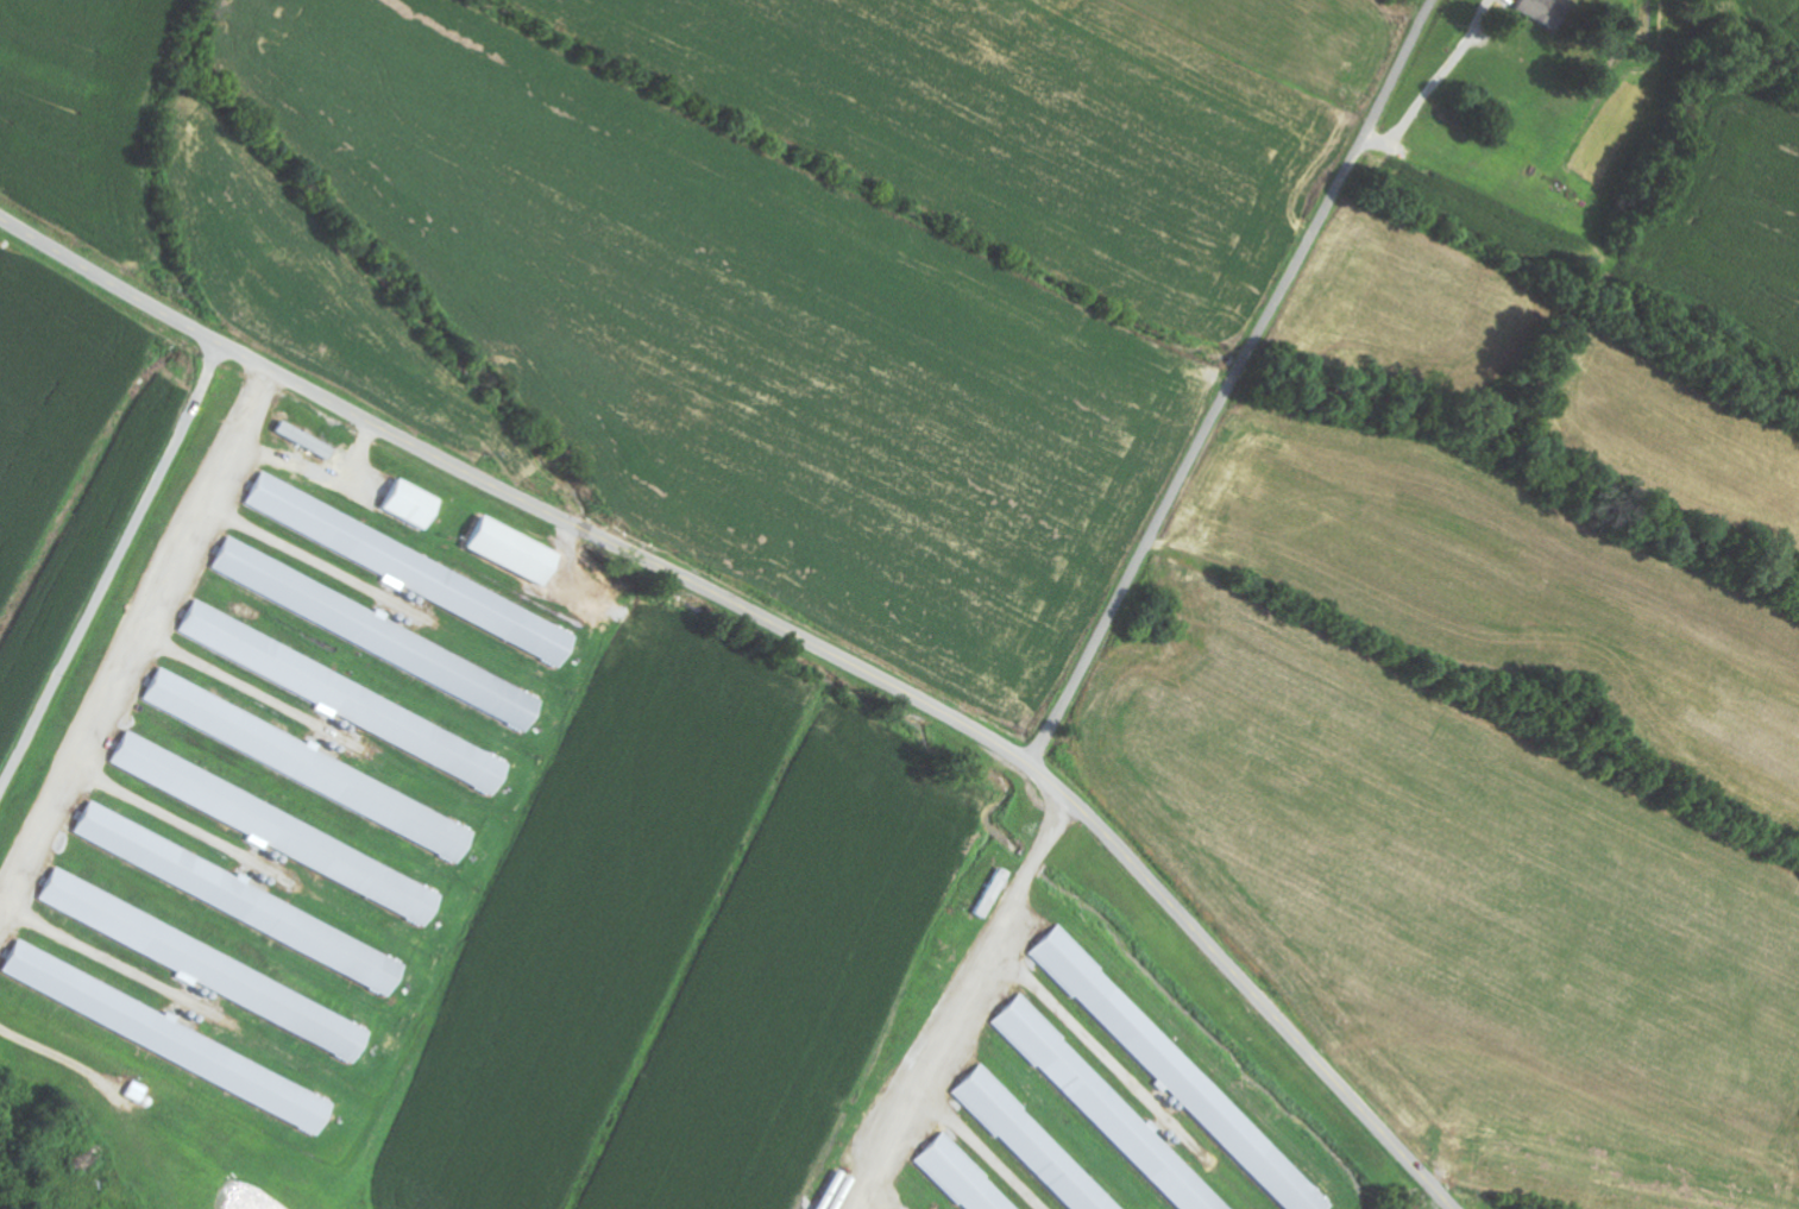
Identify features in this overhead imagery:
building: (1539, 12)
road: (1232, 383)
building: (304, 441)
building: (408, 504)
building: (504, 549)
road: (114, 573)
building: (366, 629)
road: (788, 630)
building: (296, 761)
building: (225, 893)
building: (990, 893)
building: (210, 970)
building: (153, 1032)
building: (1175, 1073)
building: (1102, 1107)
building: (1030, 1142)
building: (960, 1176)

